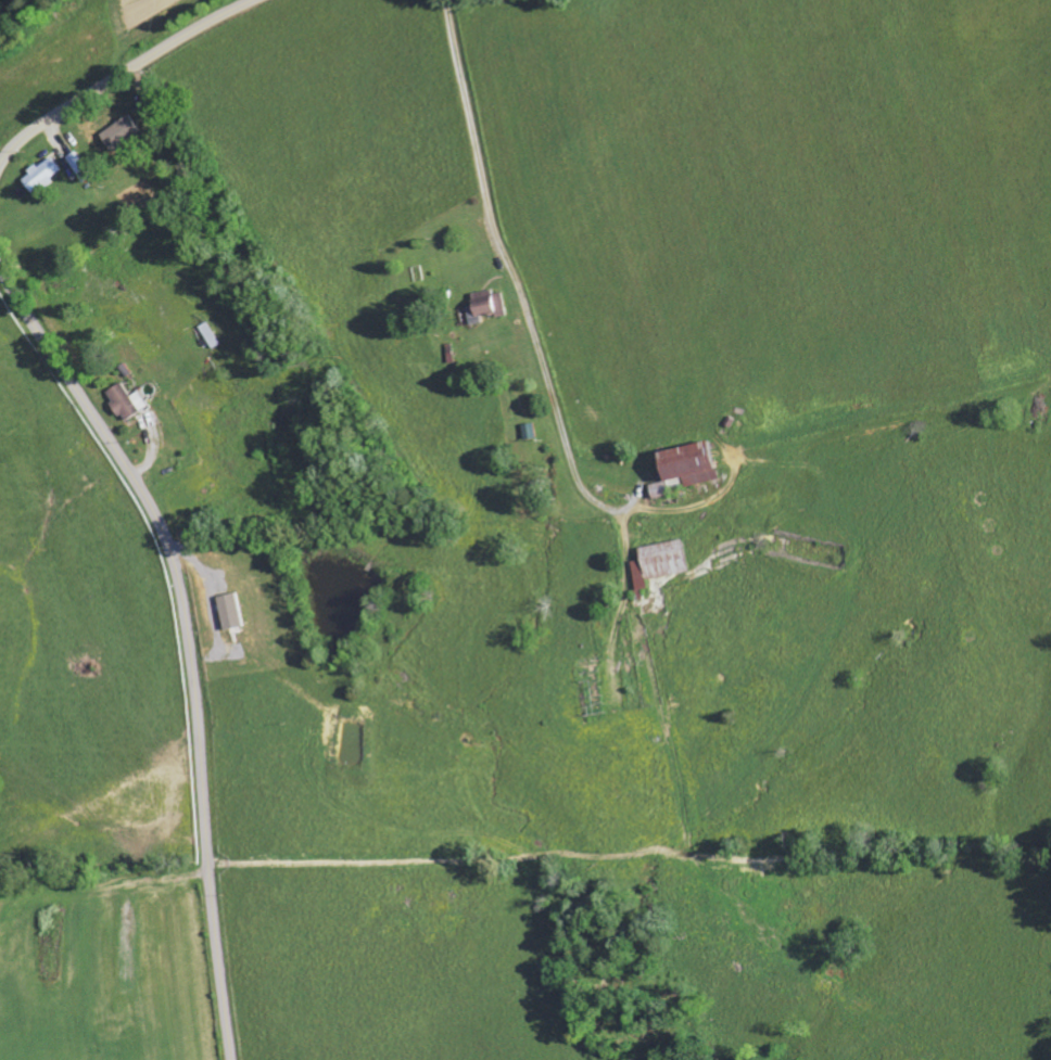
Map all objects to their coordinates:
road: (119, 73)
road: (492, 106)
building: (47, 175)
building: (485, 306)
building: (132, 401)
building: (658, 562)
building: (239, 611)
road: (189, 638)
building: (590, 689)
road: (630, 841)

